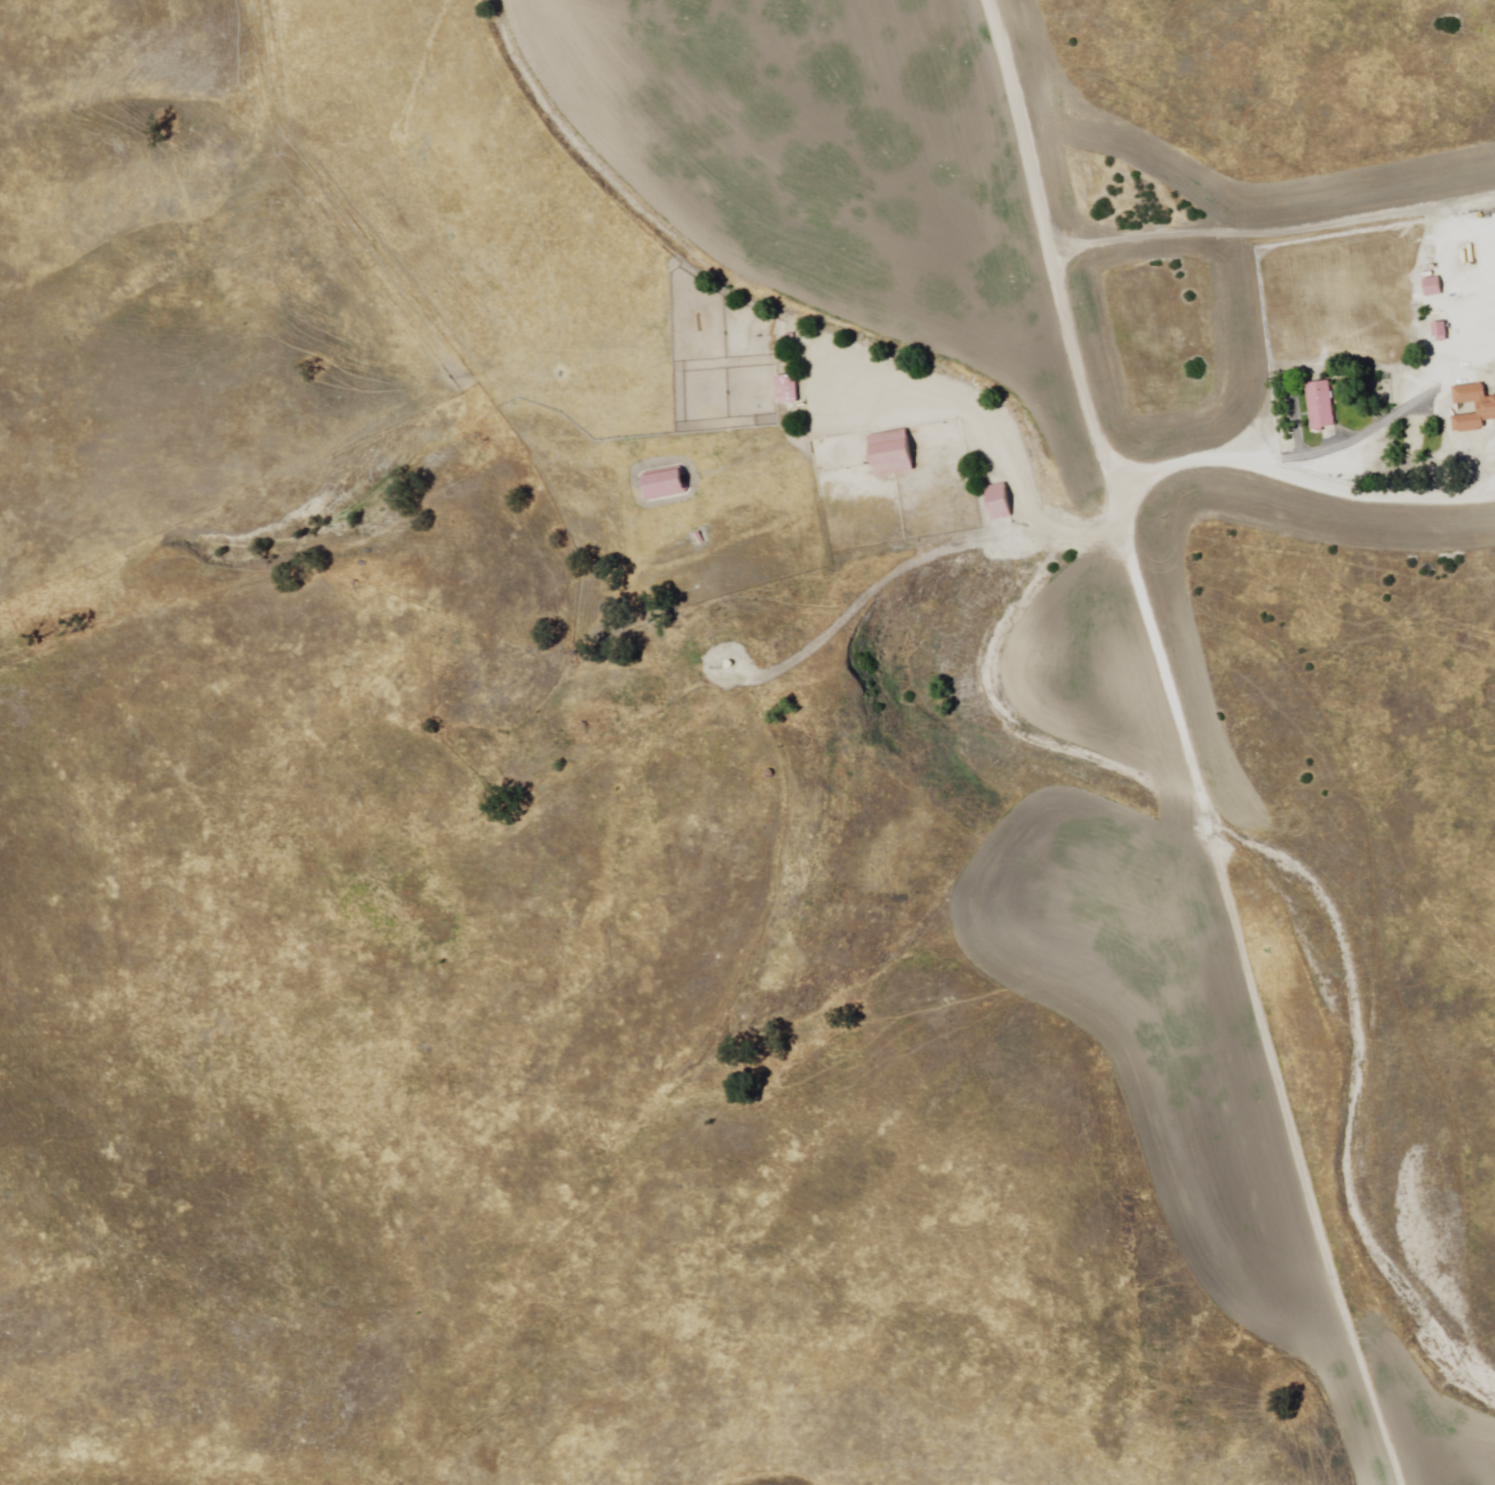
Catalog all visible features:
building: (1434, 288)
building: (1441, 333)
building: (787, 392)
building: (1322, 407)
building: (1486, 411)
road: (1308, 454)
building: (893, 456)
building: (664, 484)
road: (1369, 493)
building: (999, 504)
storage tank: (727, 665)
road: (1186, 743)

